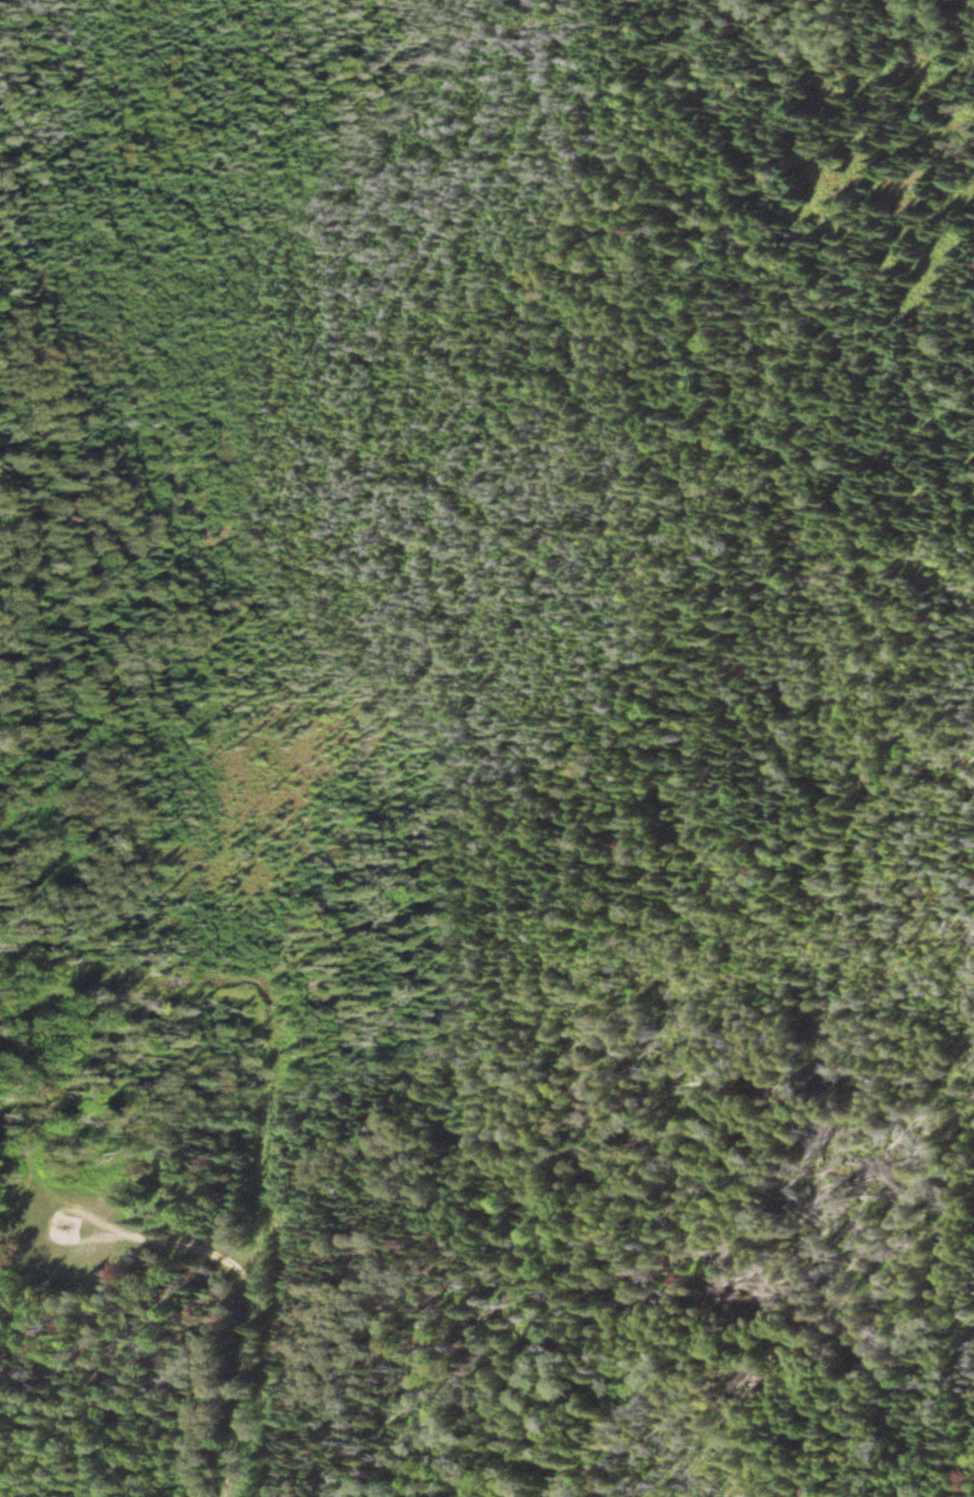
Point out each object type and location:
petroleum well: (58, 1225)

